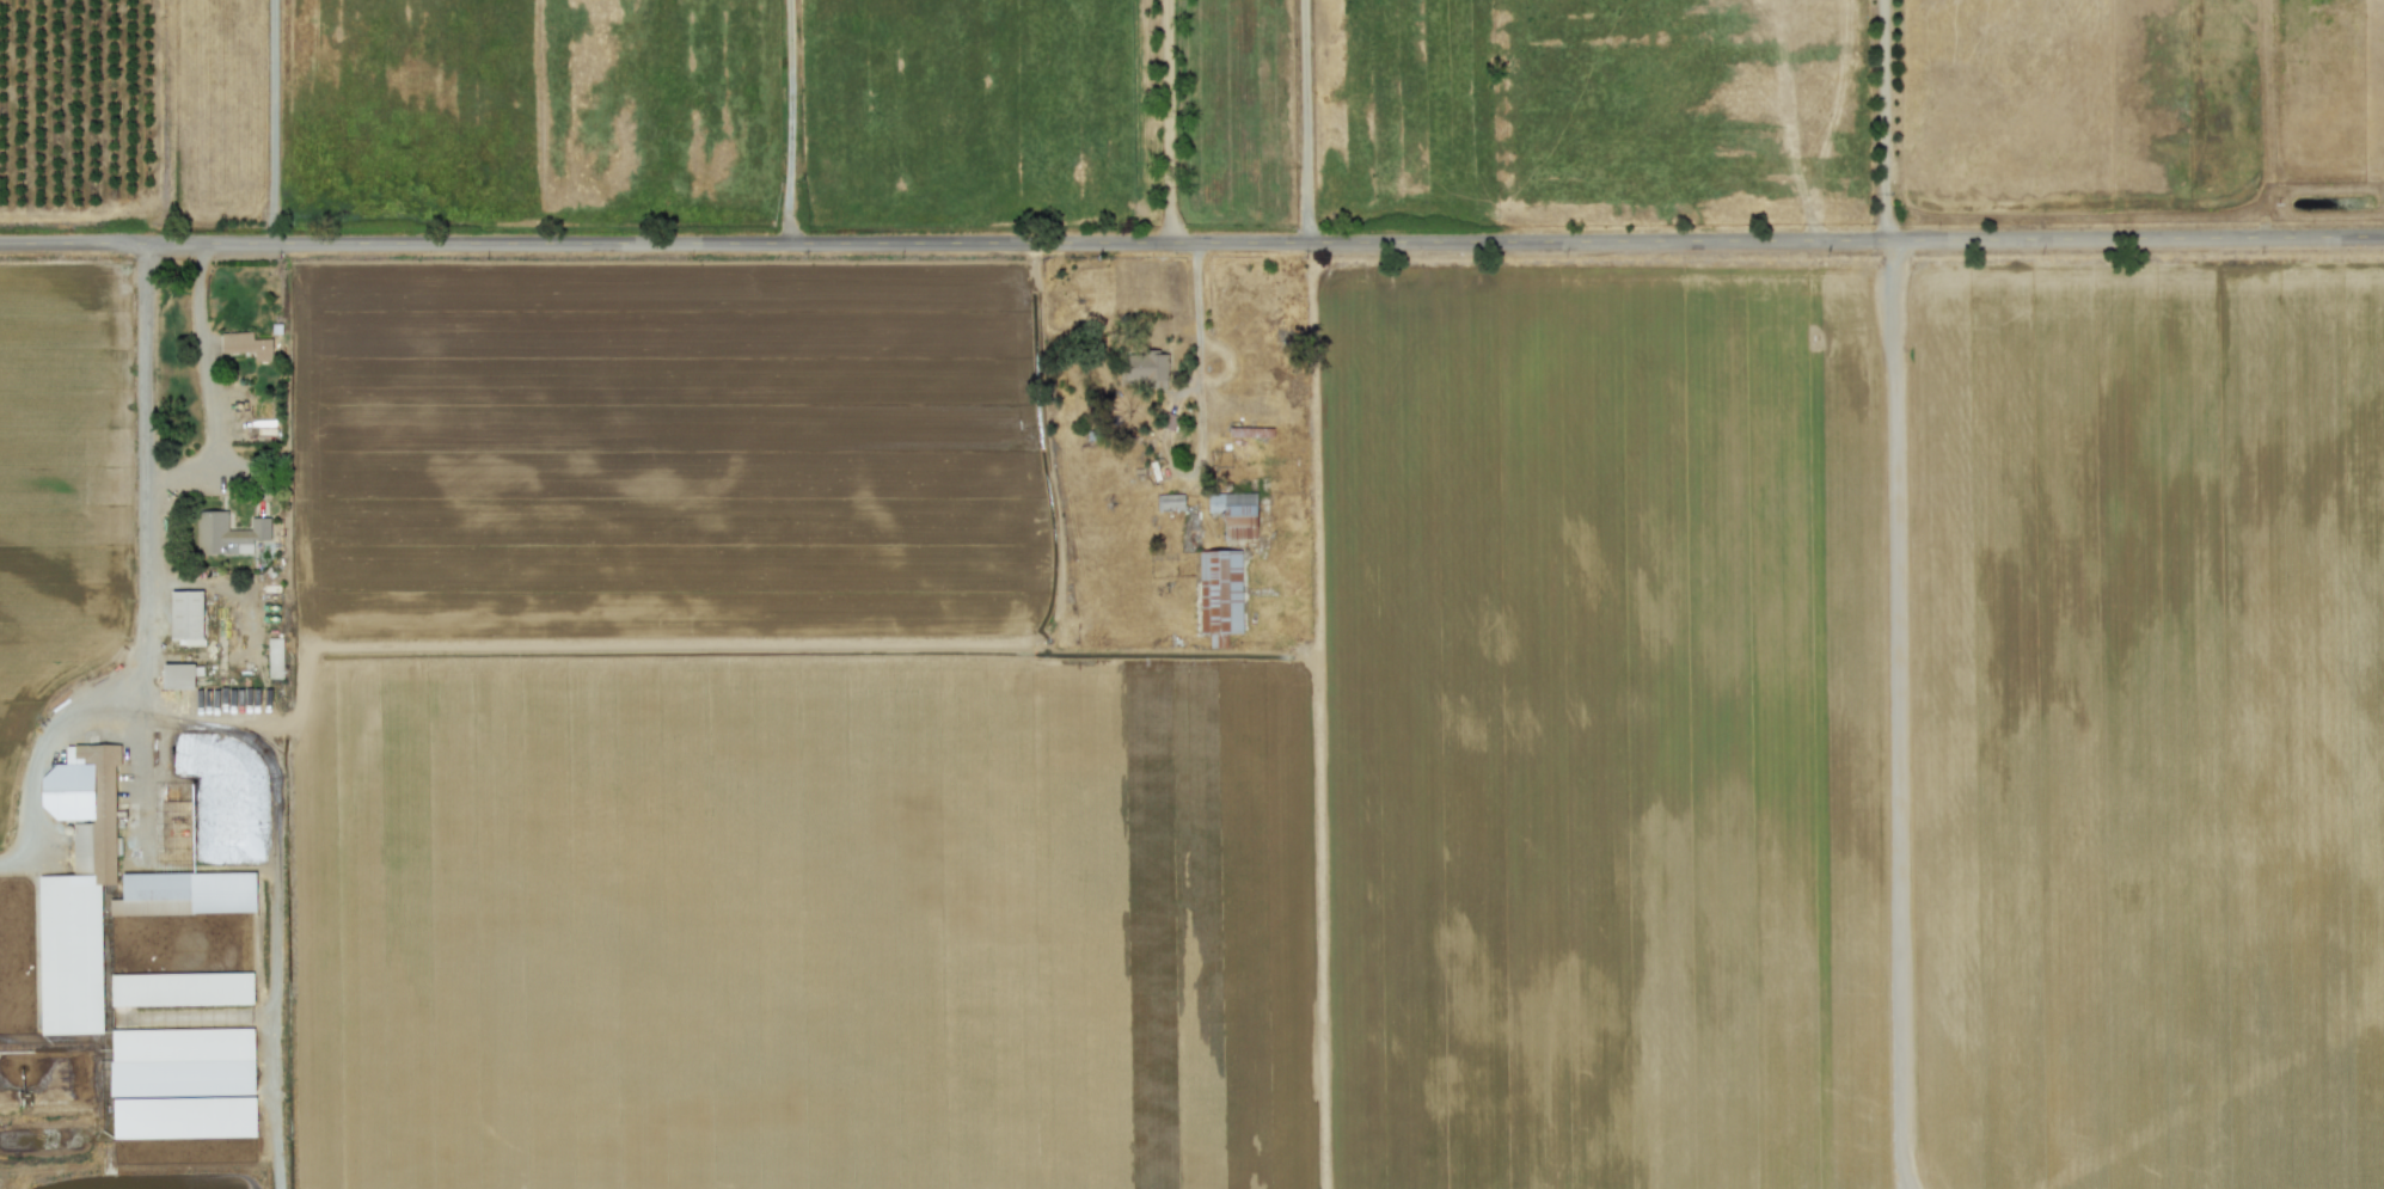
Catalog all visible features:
road: (1887, 118)
road: (1166, 119)
road: (274, 121)
road: (787, 121)
road: (1307, 121)
road: (1191, 241)
road: (1195, 321)
building: (246, 343)
road: (200, 350)
building: (1146, 366)
road: (145, 387)
building: (1170, 501)
building: (1234, 511)
building: (227, 533)
building: (1219, 590)
crop: (1191, 594)
building: (185, 613)
building: (274, 656)
building: (177, 674)
road: (114, 688)
road: (1899, 715)
building: (182, 870)
building: (76, 888)
building: (182, 987)
building: (184, 1116)

